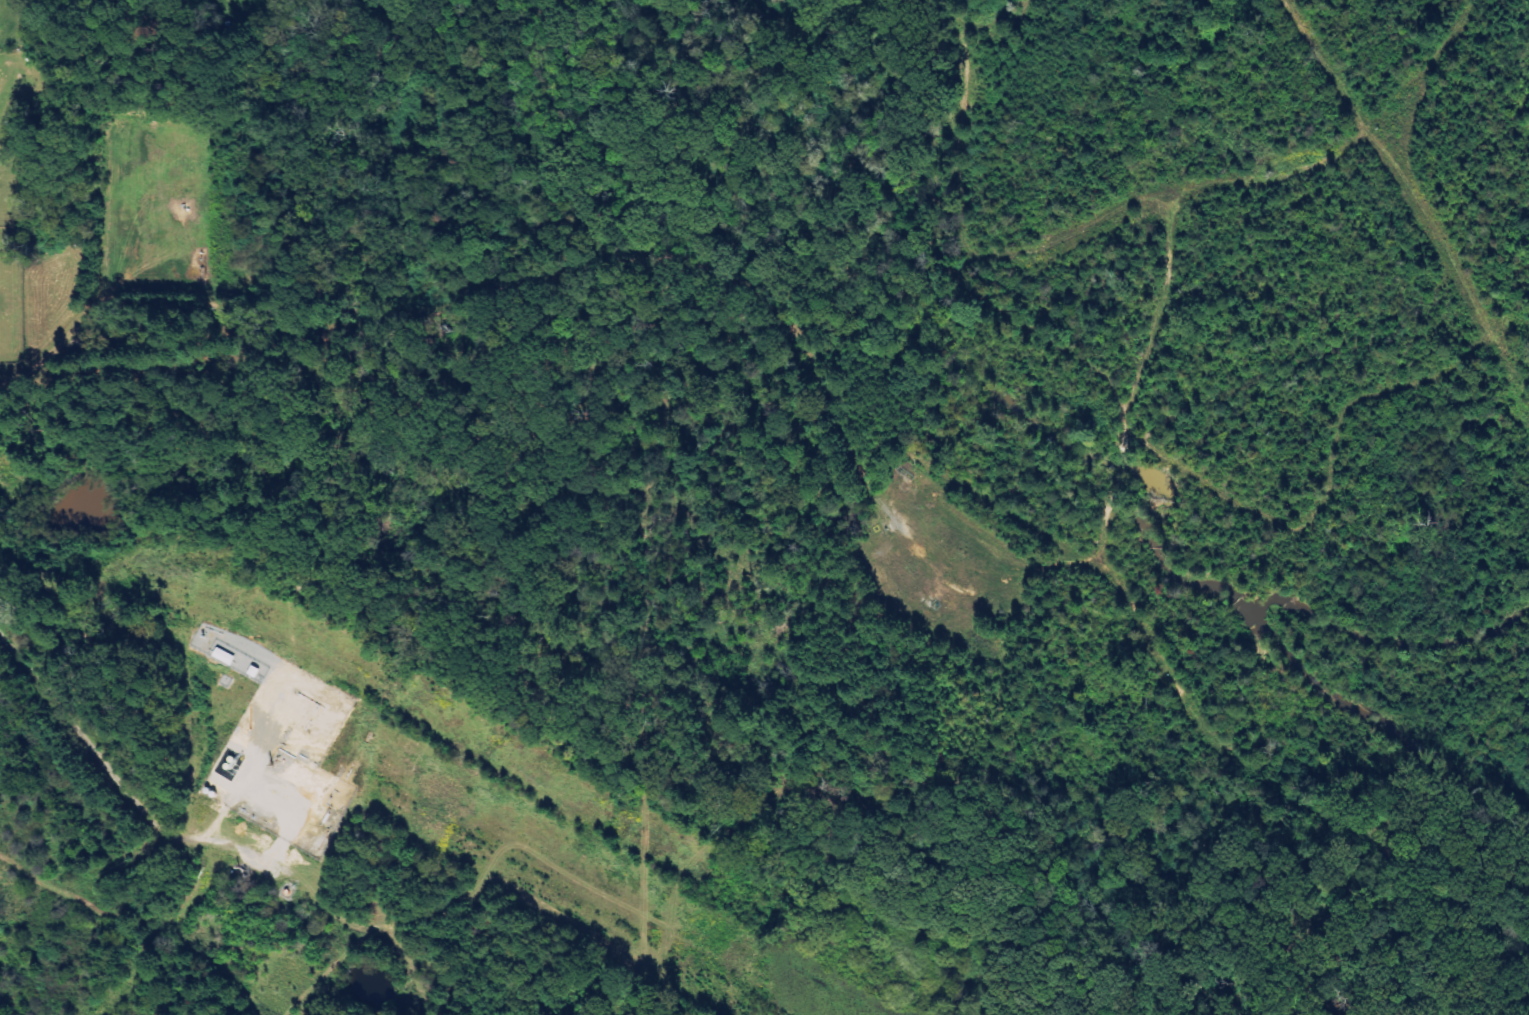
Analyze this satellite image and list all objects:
road: (62, 335)
road: (129, 799)

